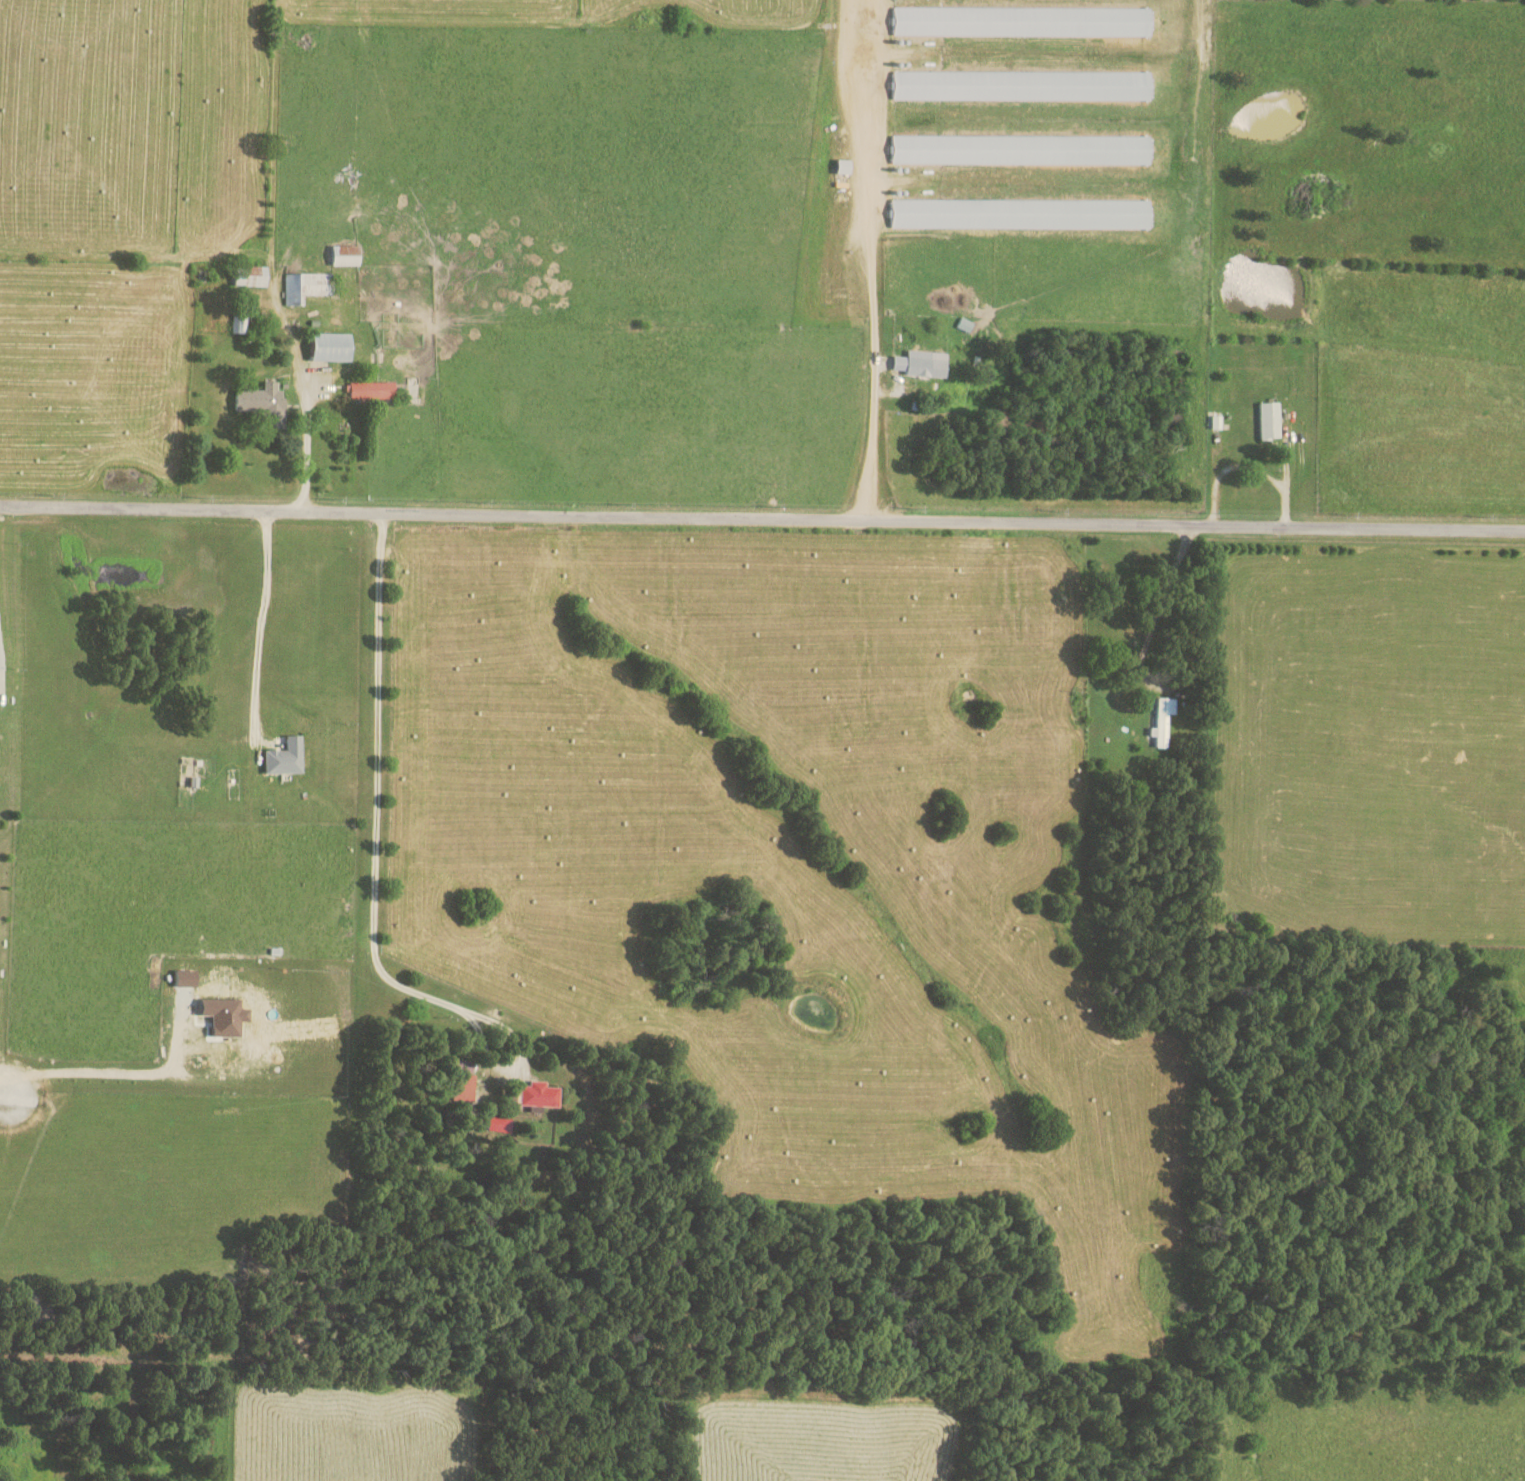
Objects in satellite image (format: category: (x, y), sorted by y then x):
building: (1024, 21)
building: (1023, 85)
building: (1023, 149)
building: (1023, 213)
building: (346, 255)
road: (875, 261)
building: (250, 276)
building: (305, 286)
building: (238, 323)
building: (332, 347)
building: (924, 364)
building: (371, 390)
building: (263, 404)
building: (1270, 420)
building: (1216, 422)
road: (305, 439)
road: (1244, 472)
road: (762, 521)
road: (1162, 610)
road: (260, 628)
building: (1164, 720)
building: (285, 757)
road: (375, 836)
road: (1, 1091)
building: (539, 1095)
building: (500, 1123)

